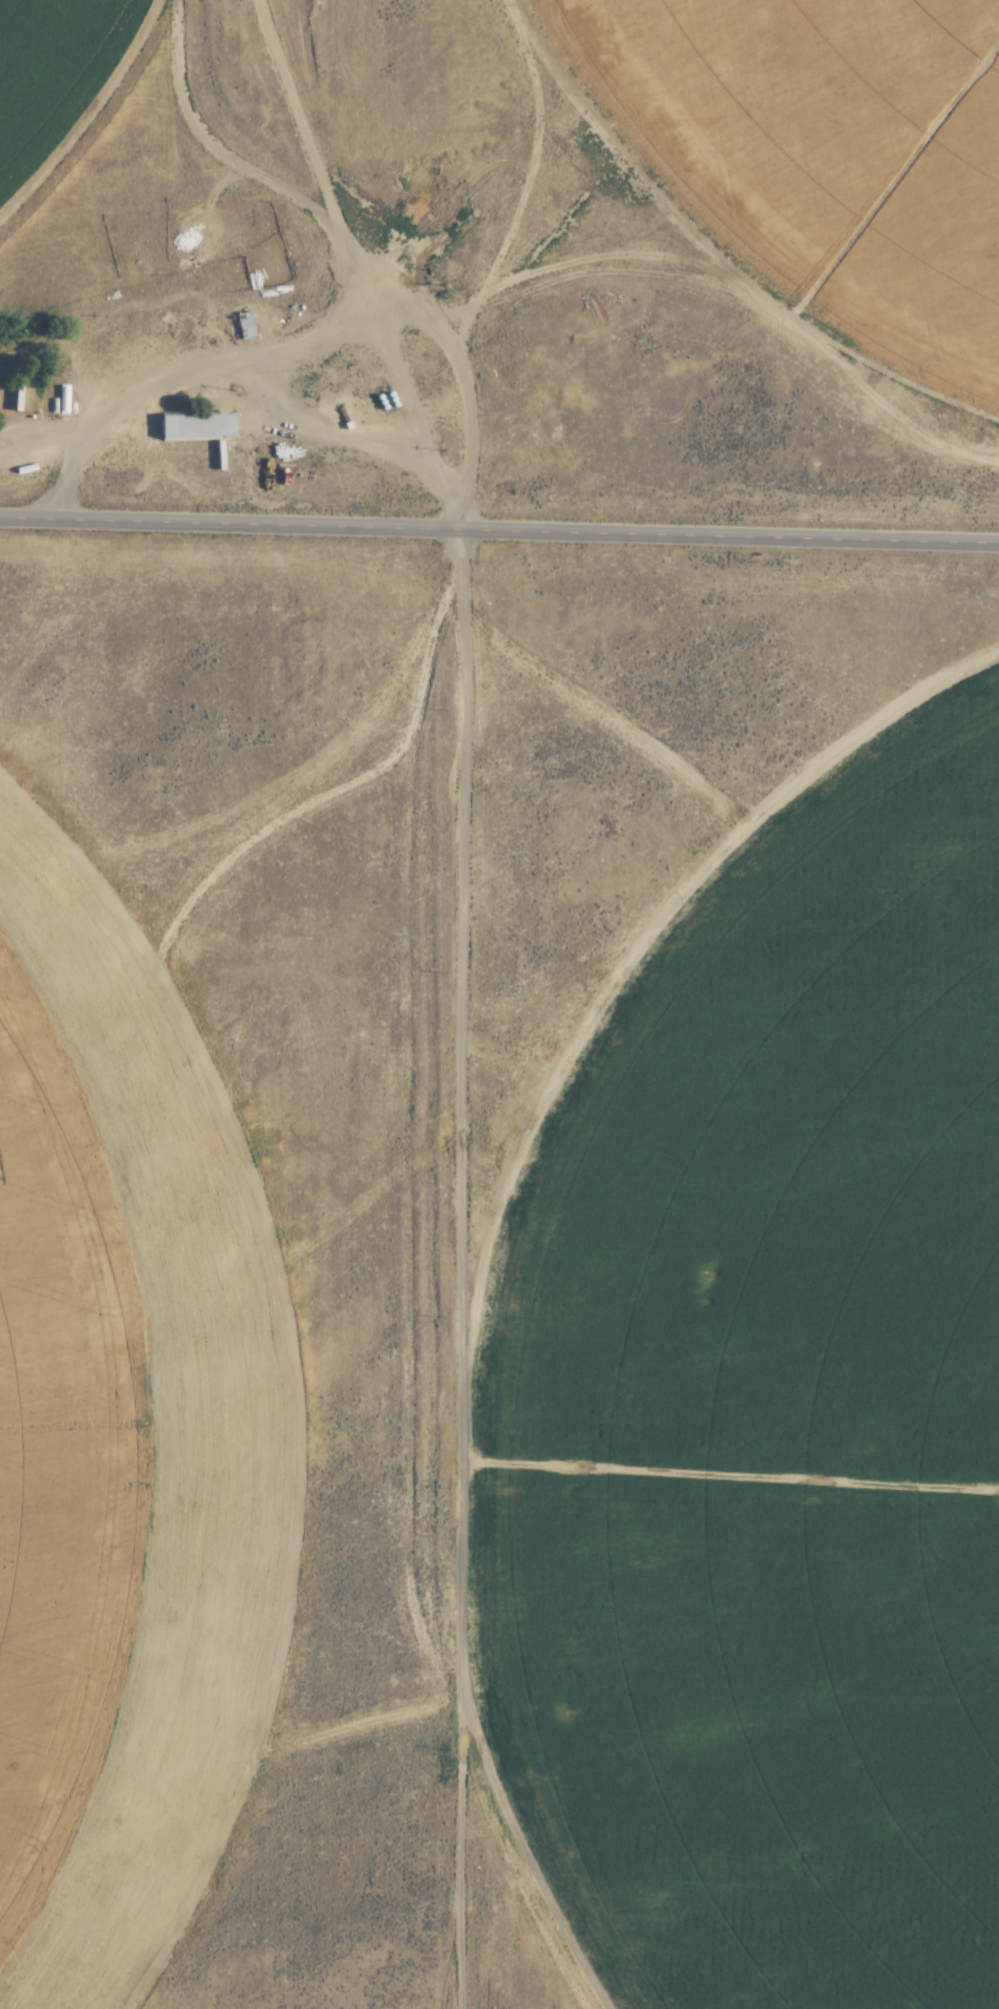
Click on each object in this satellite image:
crop: (57, 75)
crop: (834, 168)
building: (246, 326)
building: (15, 393)
building: (64, 401)
building: (199, 428)
crop: (779, 1445)
crop: (93, 1516)

